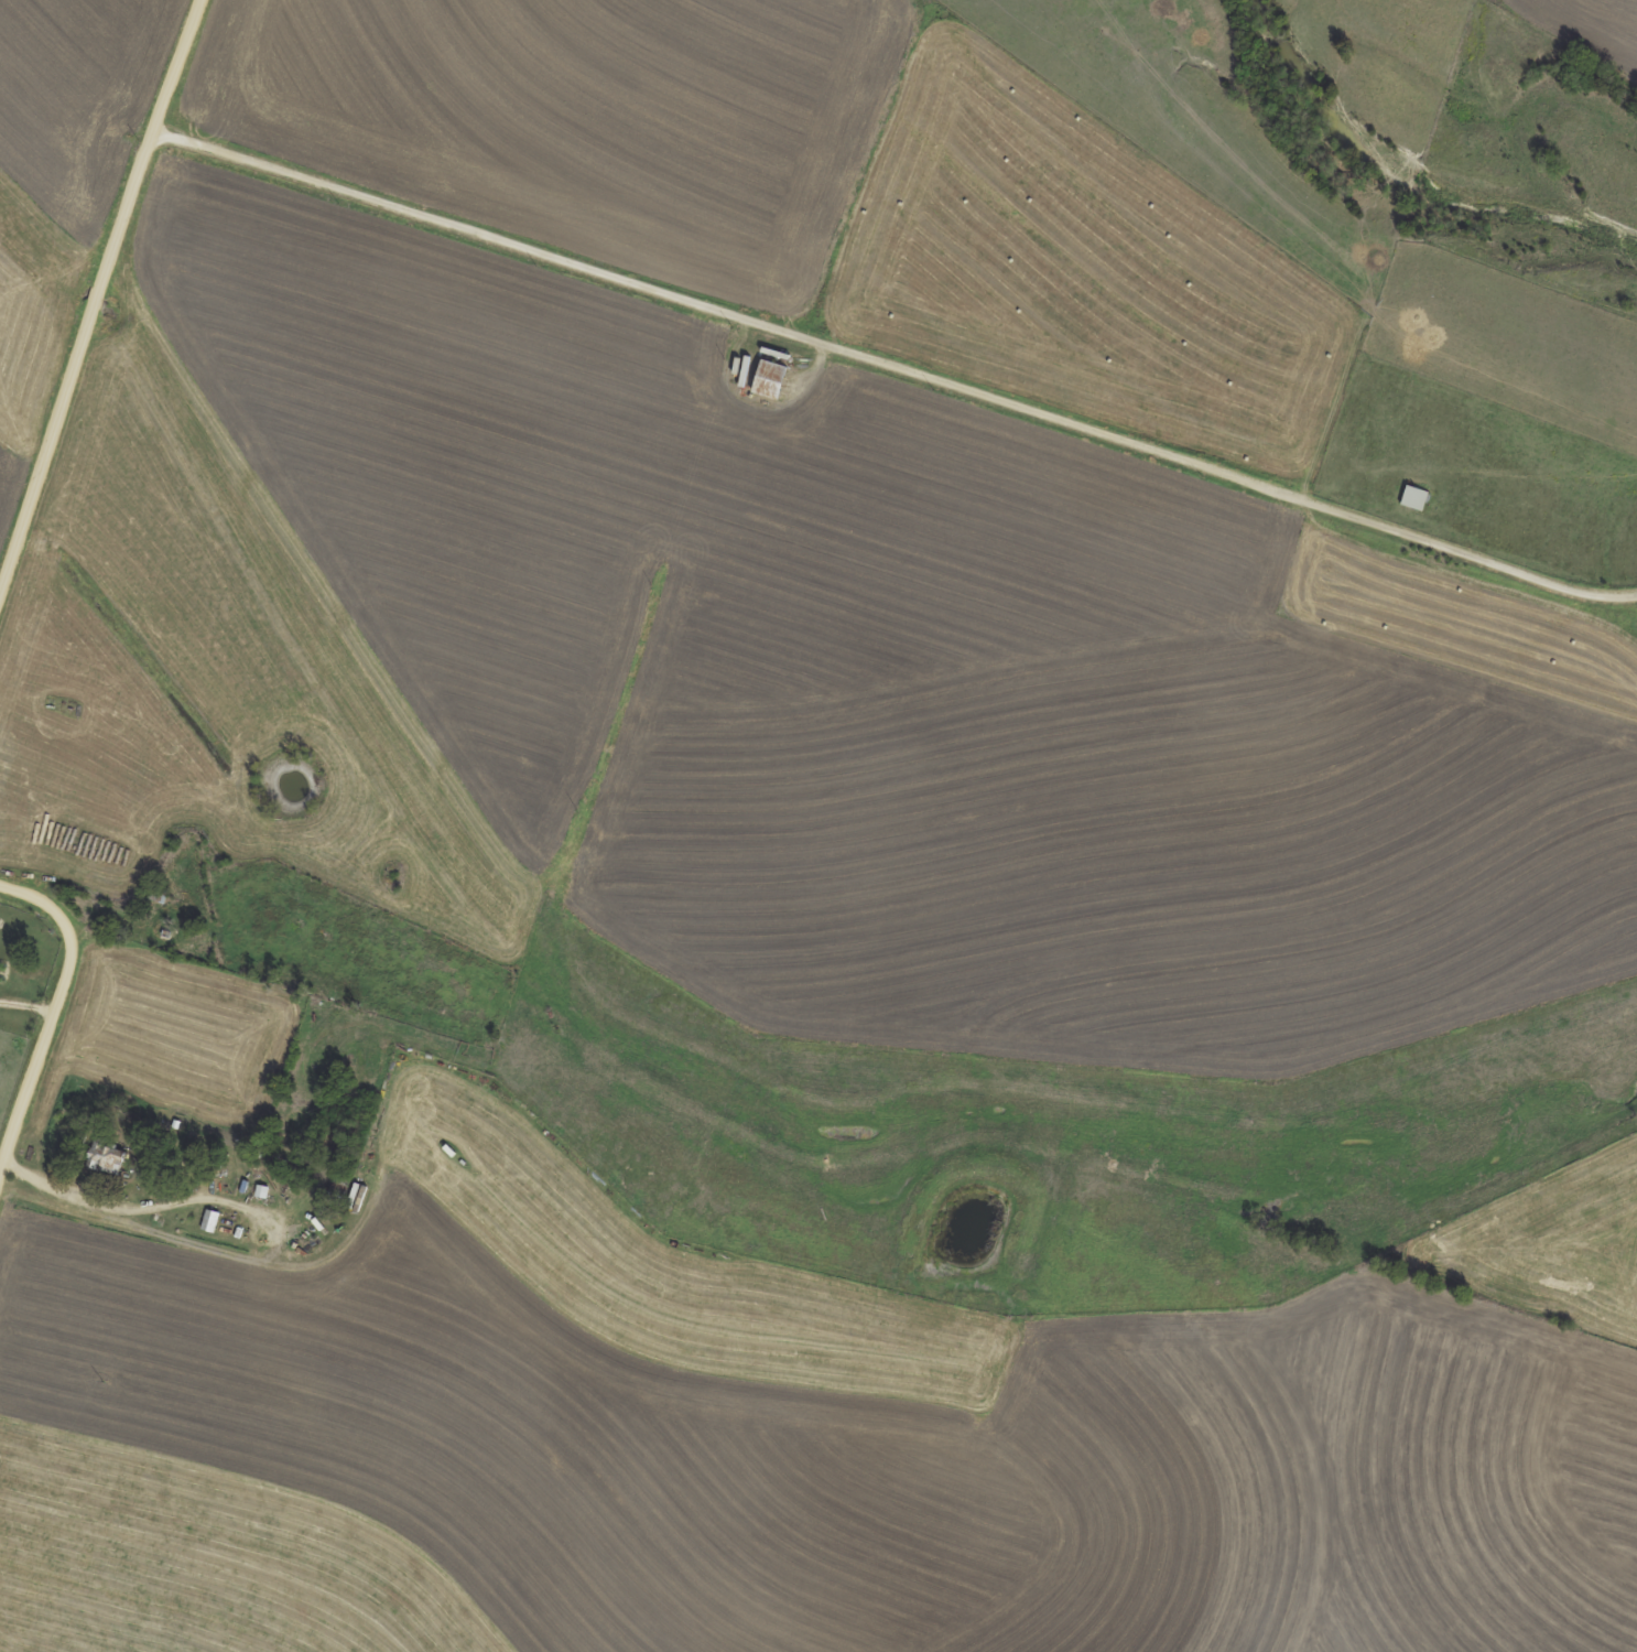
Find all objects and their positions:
road: (94, 295)
road: (891, 370)
building: (766, 379)
road: (26, 1003)
road: (53, 1007)
road: (128, 1207)

